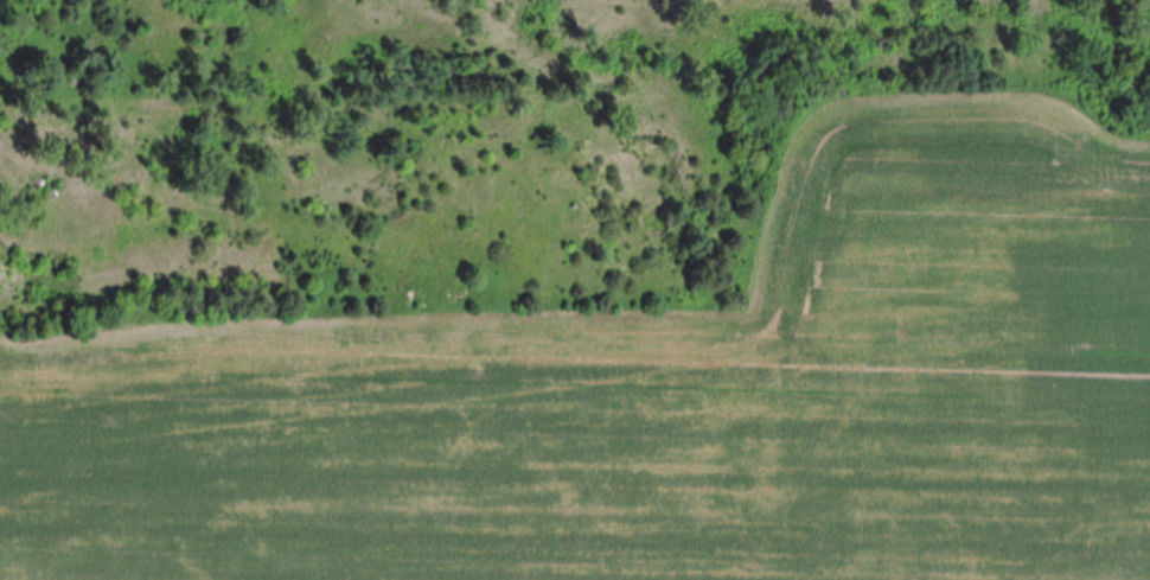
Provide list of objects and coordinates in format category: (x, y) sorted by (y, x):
crop: (659, 391)

